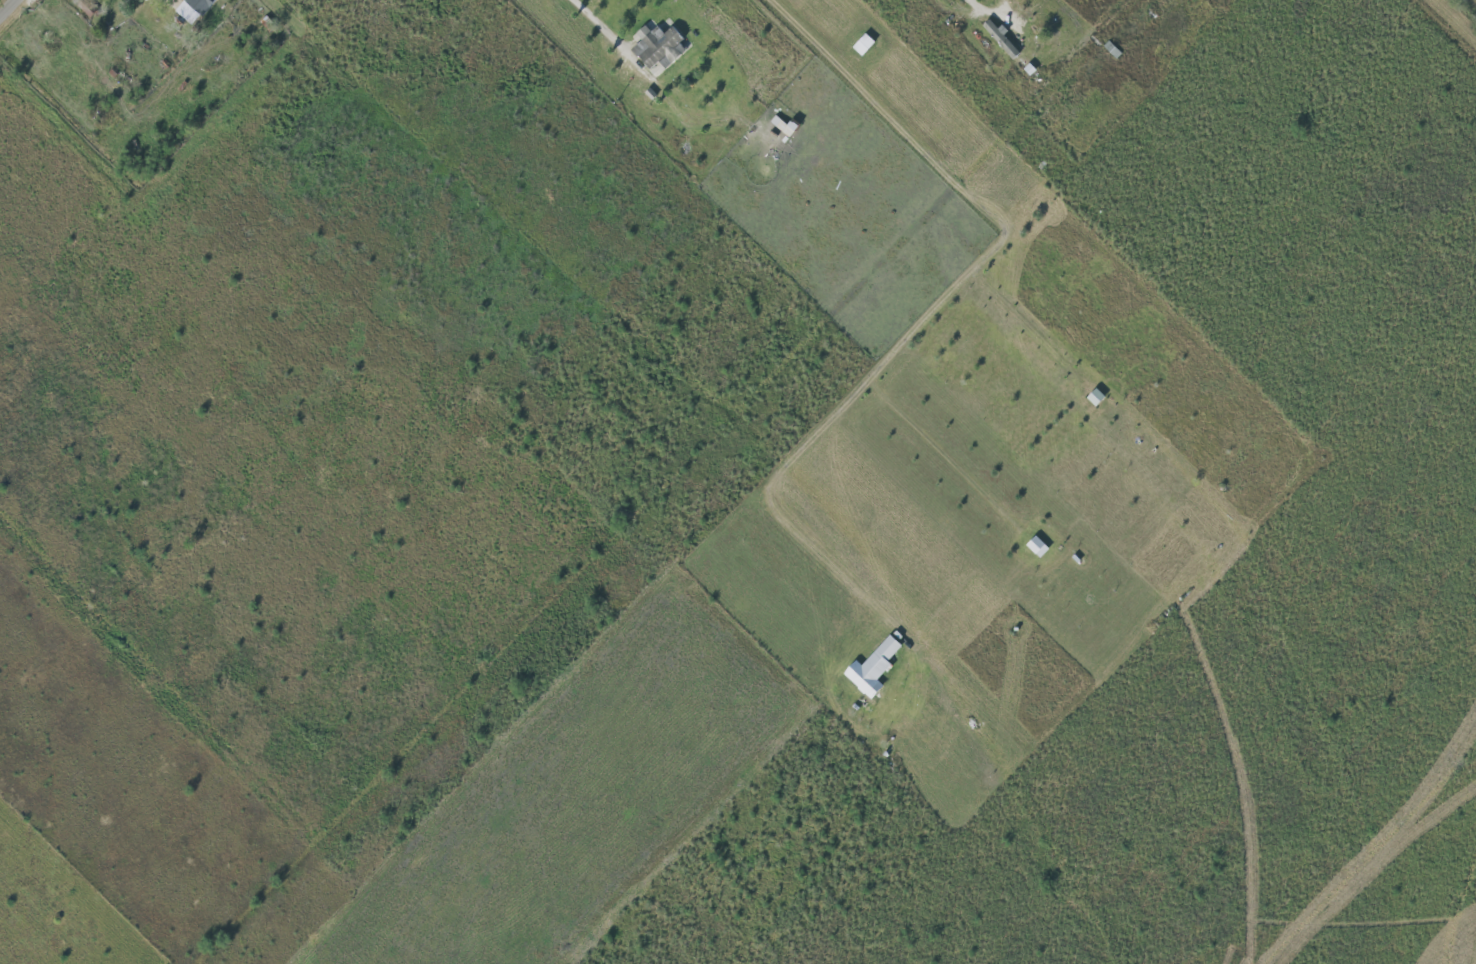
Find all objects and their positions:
building: (202, 5)
road: (10, 11)
road: (1463, 12)
road: (596, 18)
building: (1002, 39)
building: (660, 46)
road: (946, 298)
building: (1098, 396)
building: (1039, 545)
building: (875, 667)

